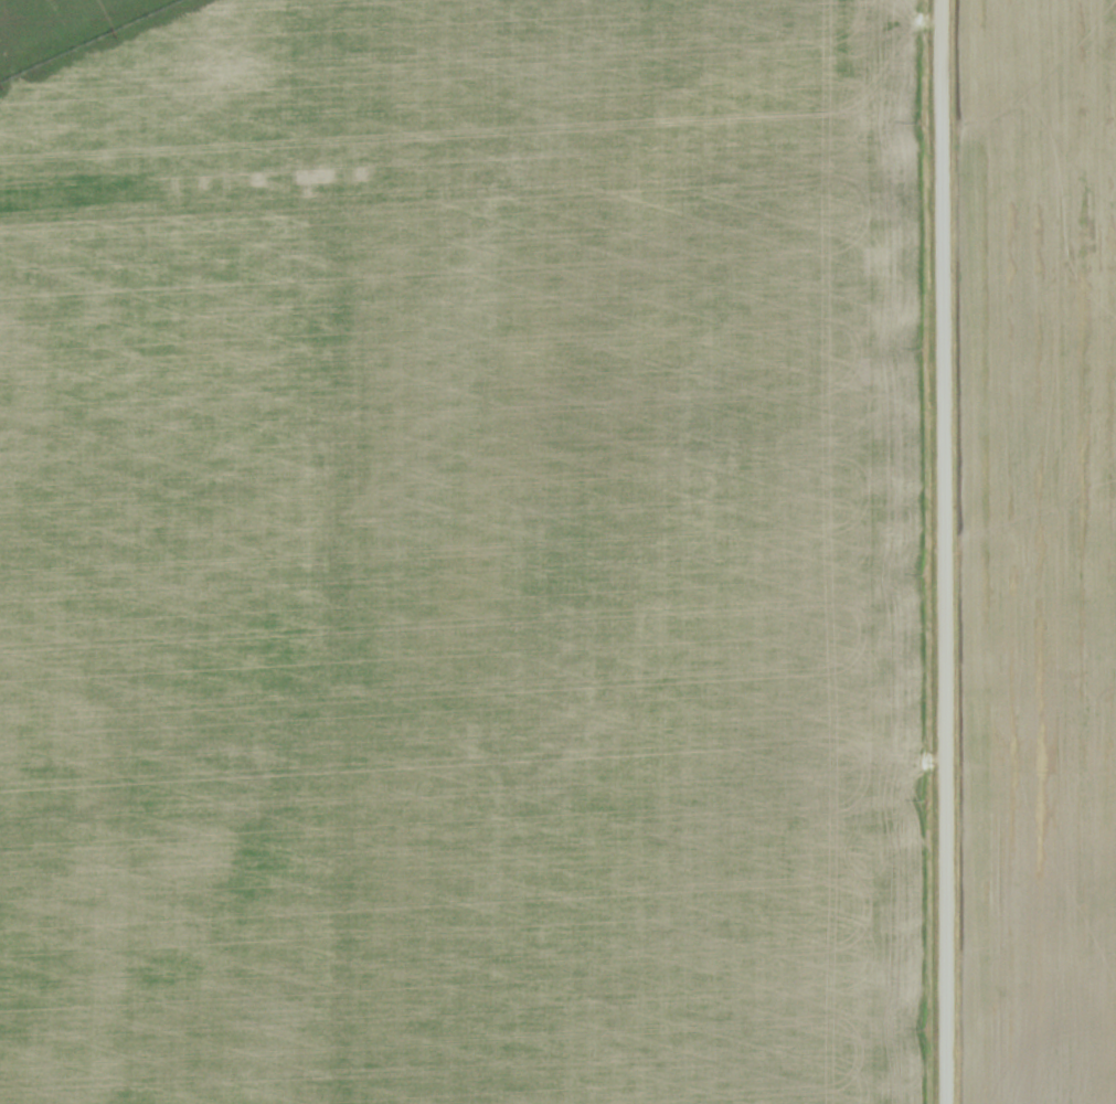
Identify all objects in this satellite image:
road: (944, 552)

